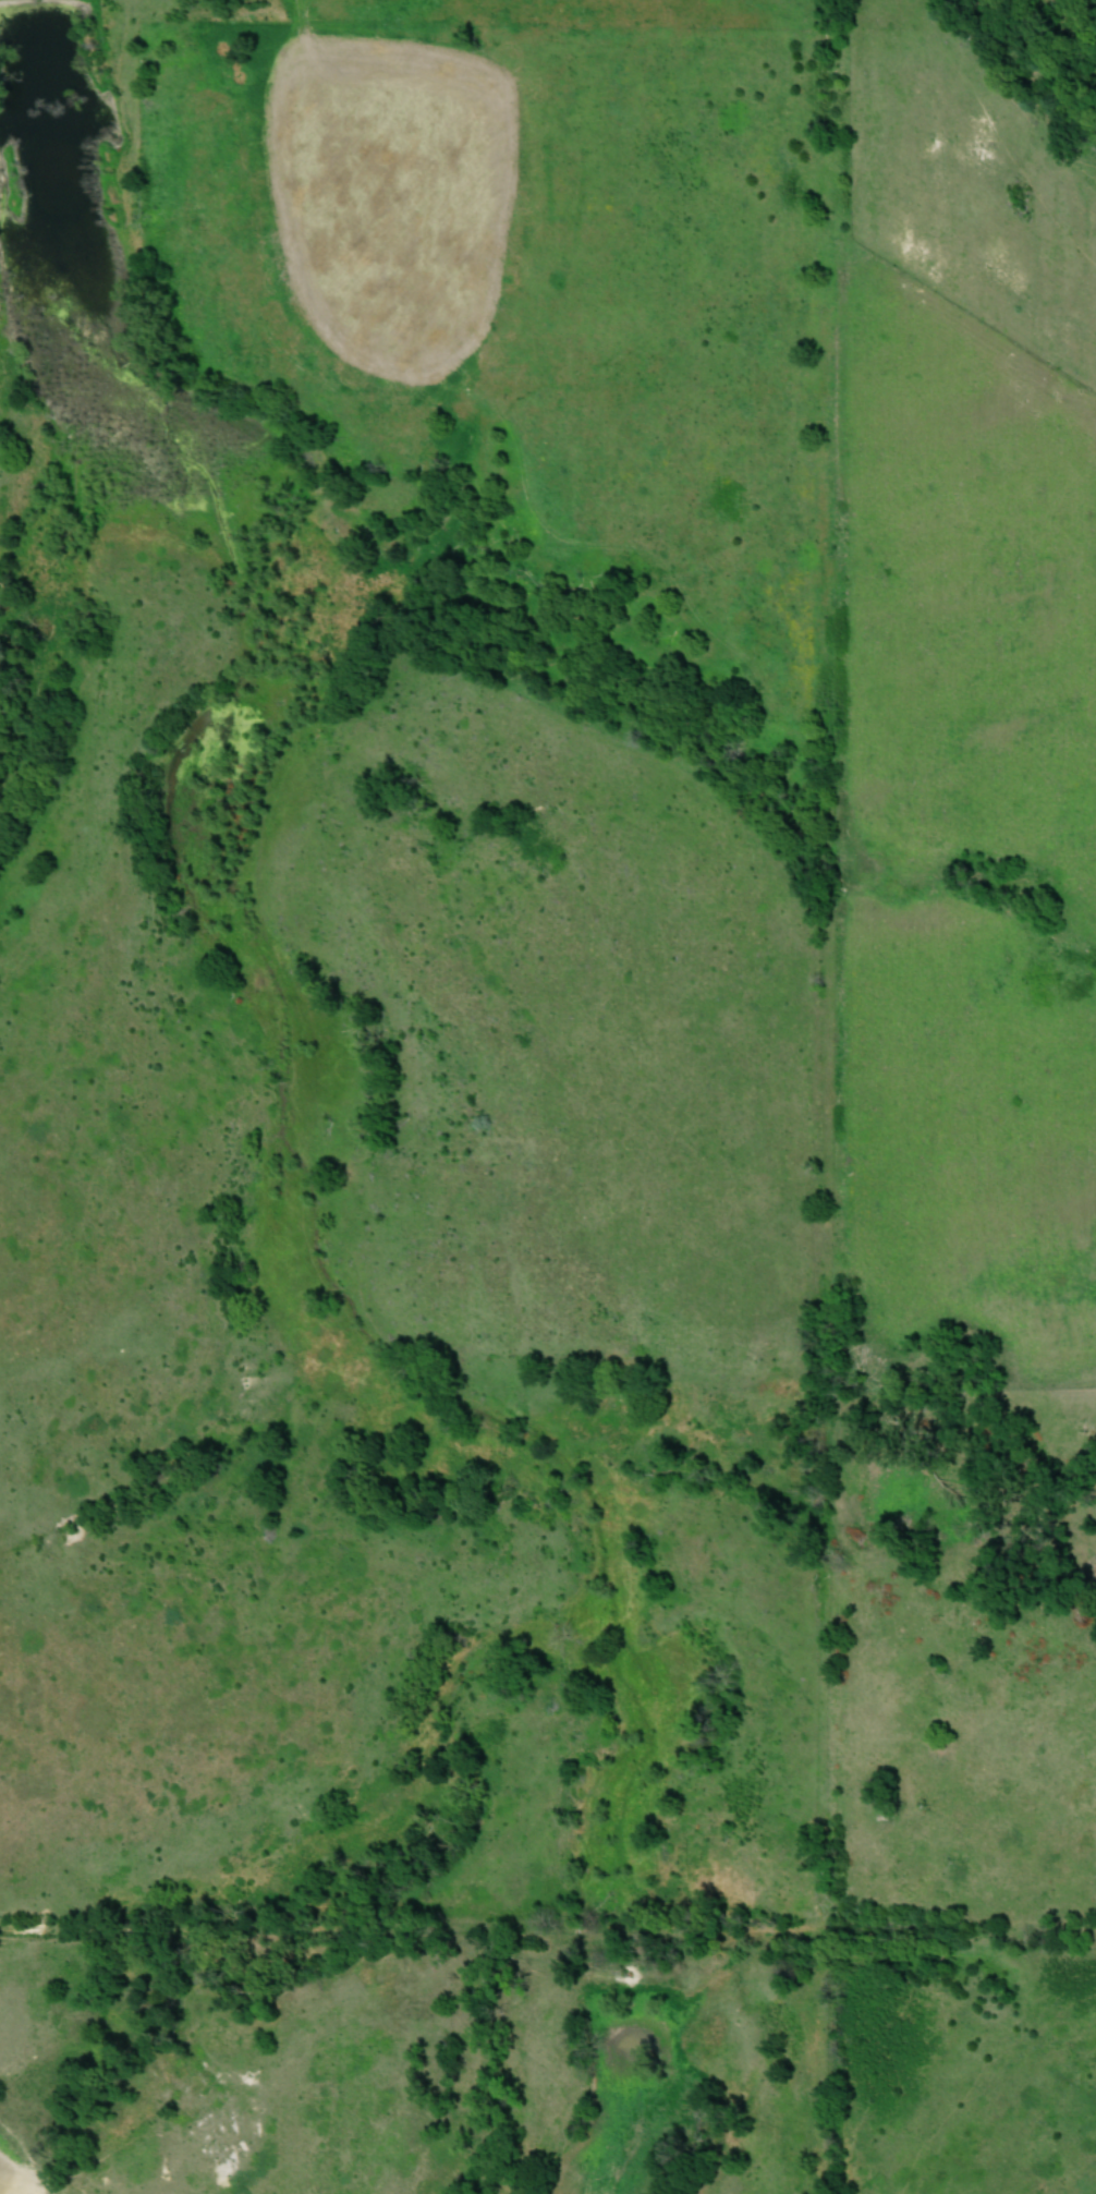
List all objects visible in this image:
road: (210, 1927)

